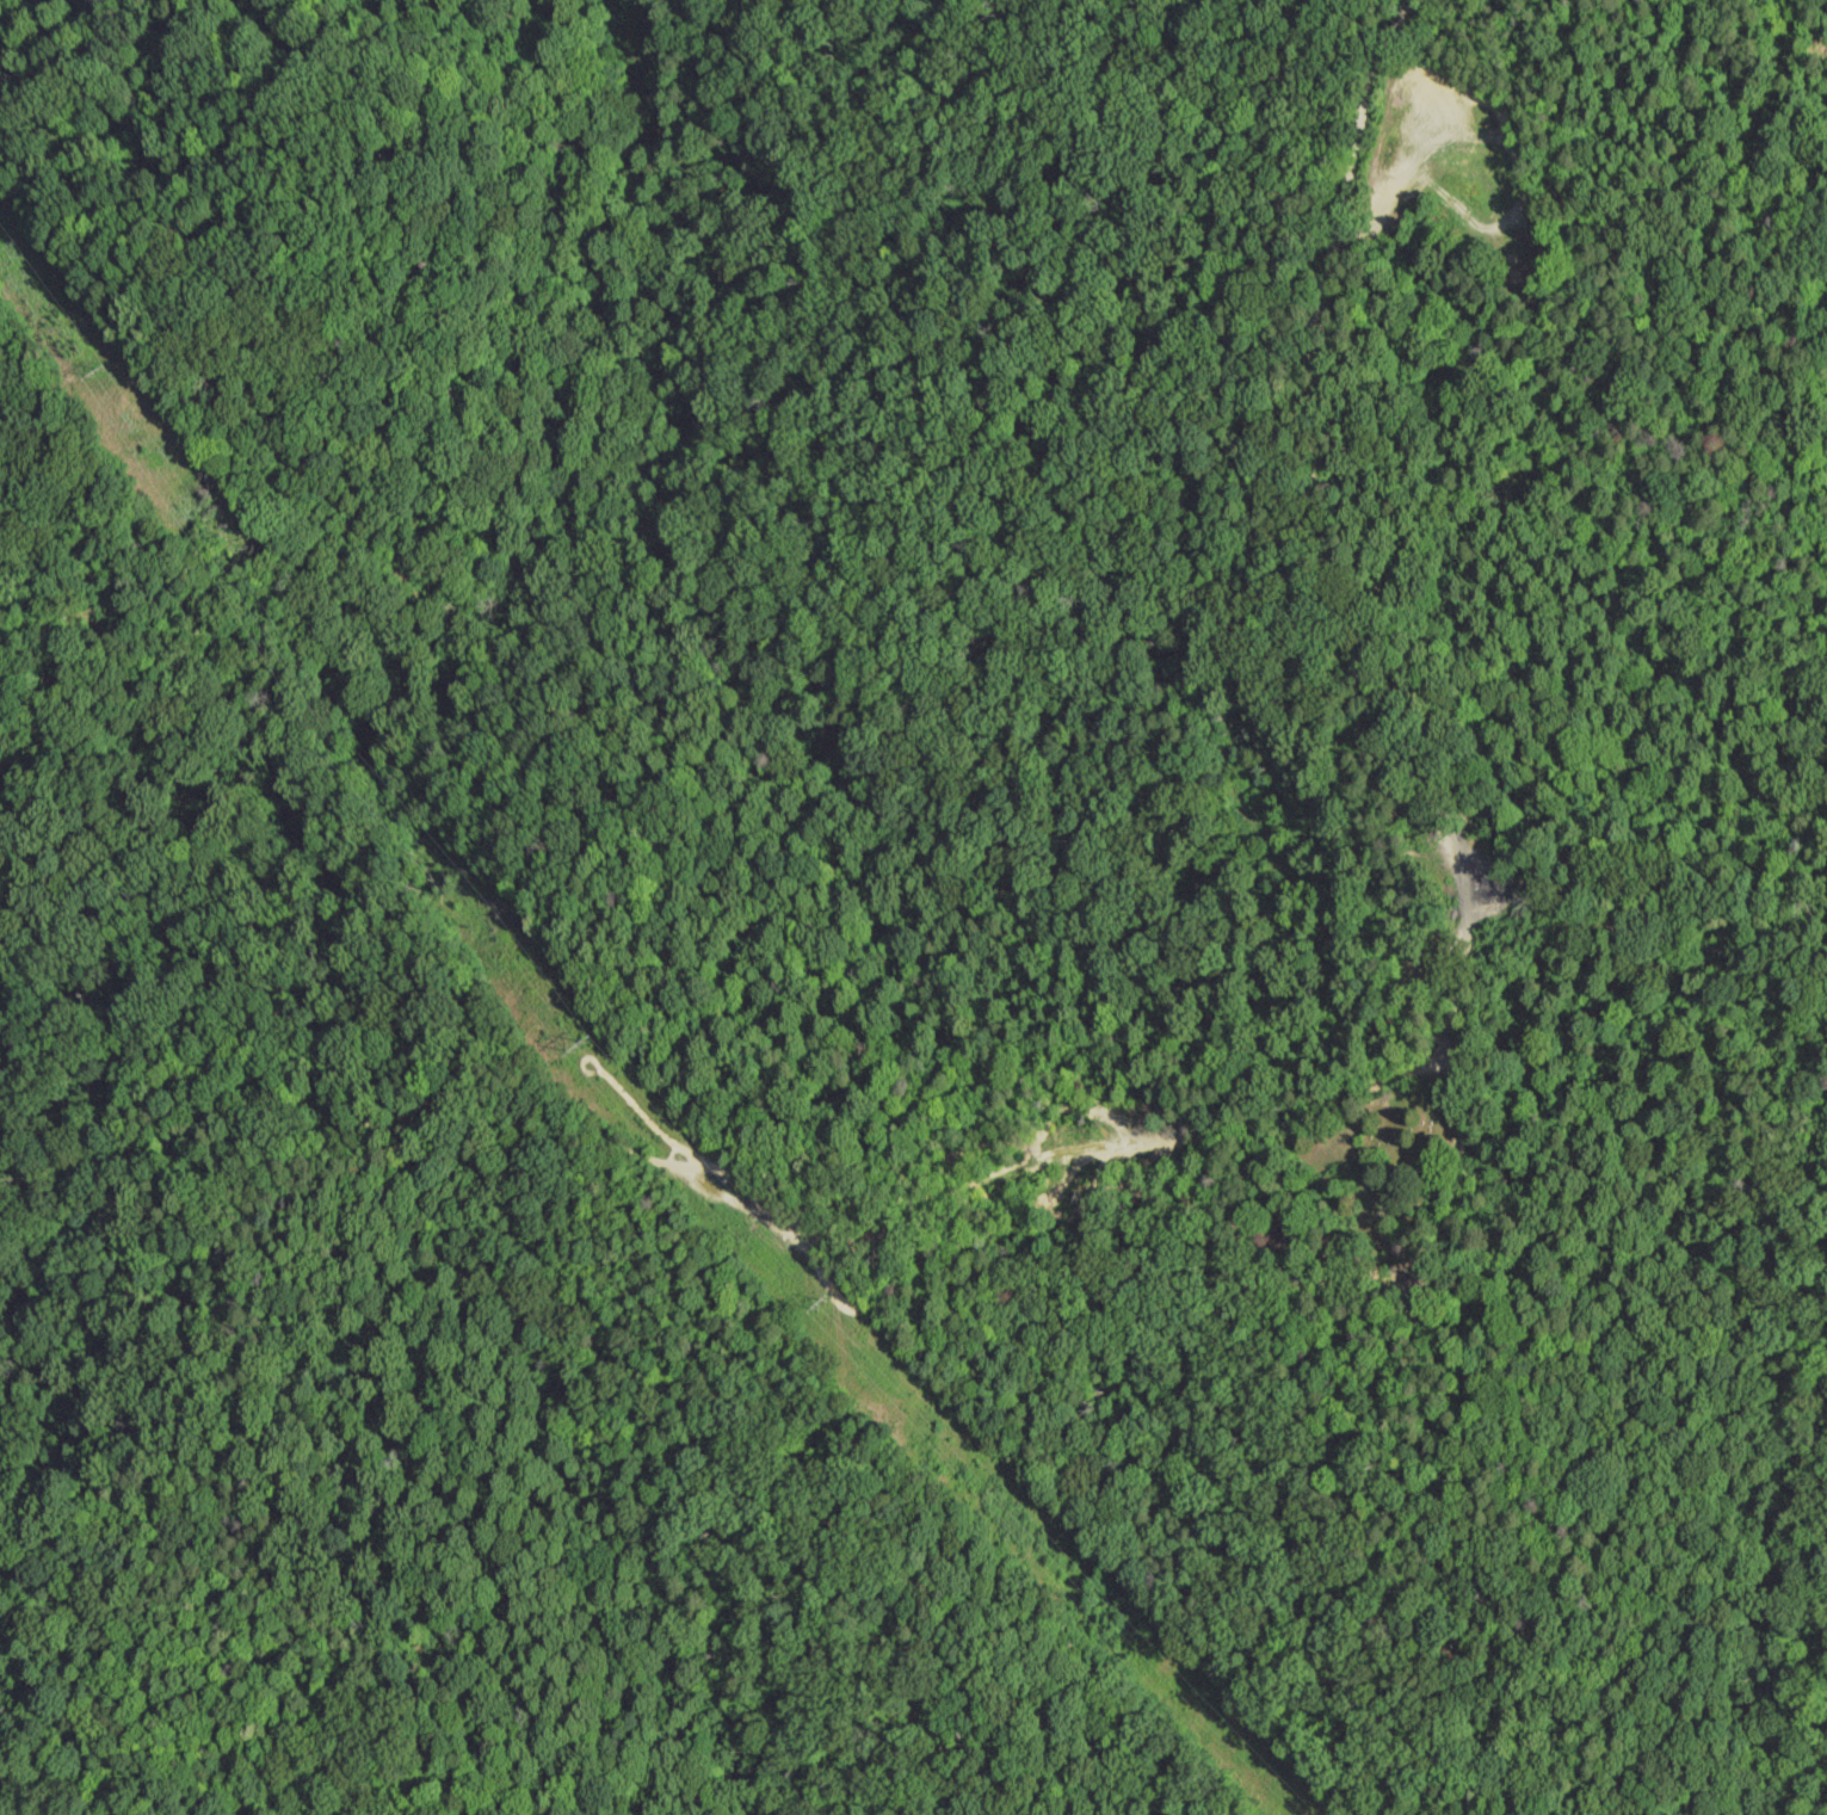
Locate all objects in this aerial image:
road: (185, 305)
road: (544, 360)
road: (748, 890)
road: (163, 1032)
road: (1143, 1138)

